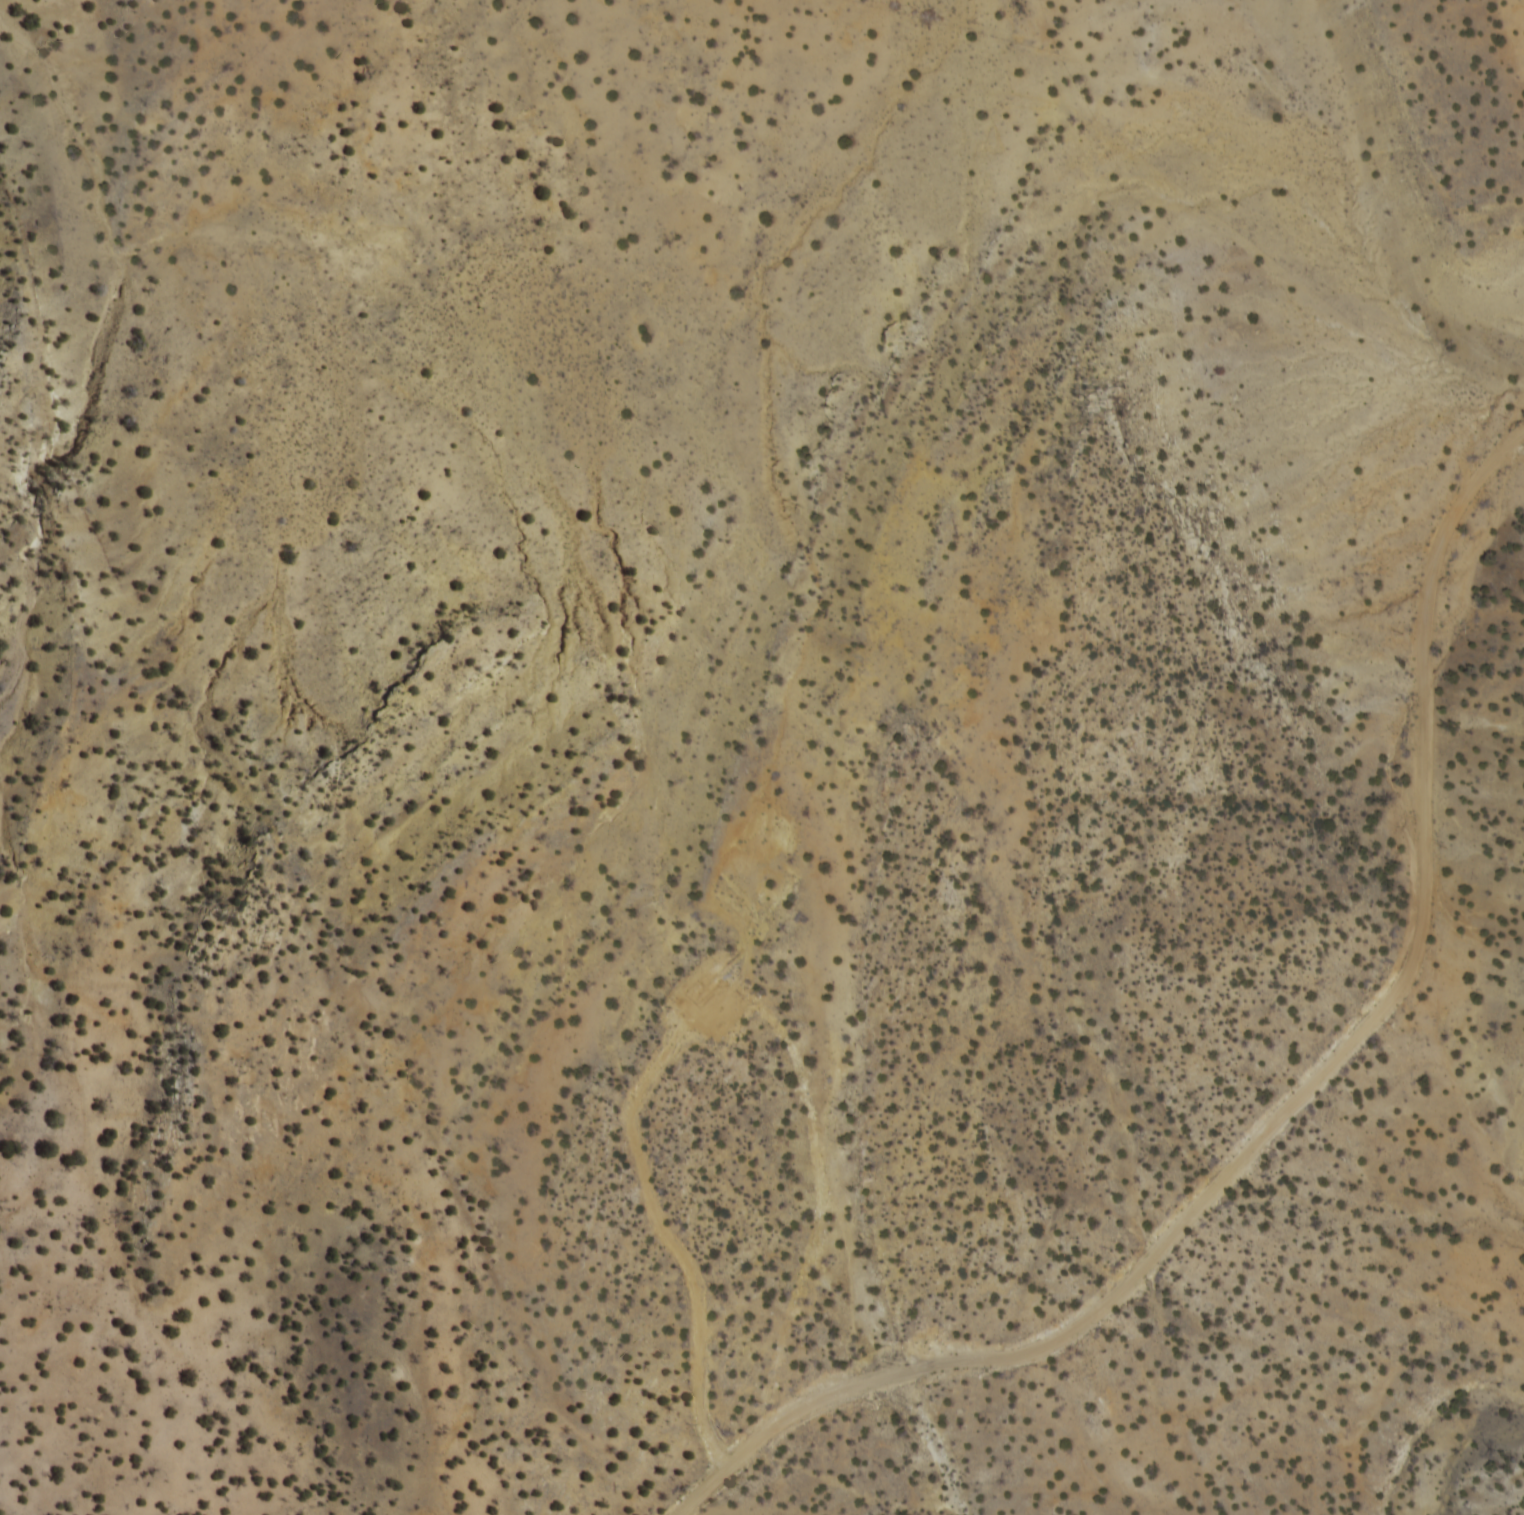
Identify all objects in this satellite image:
road: (1285, 1109)
road: (674, 1231)

